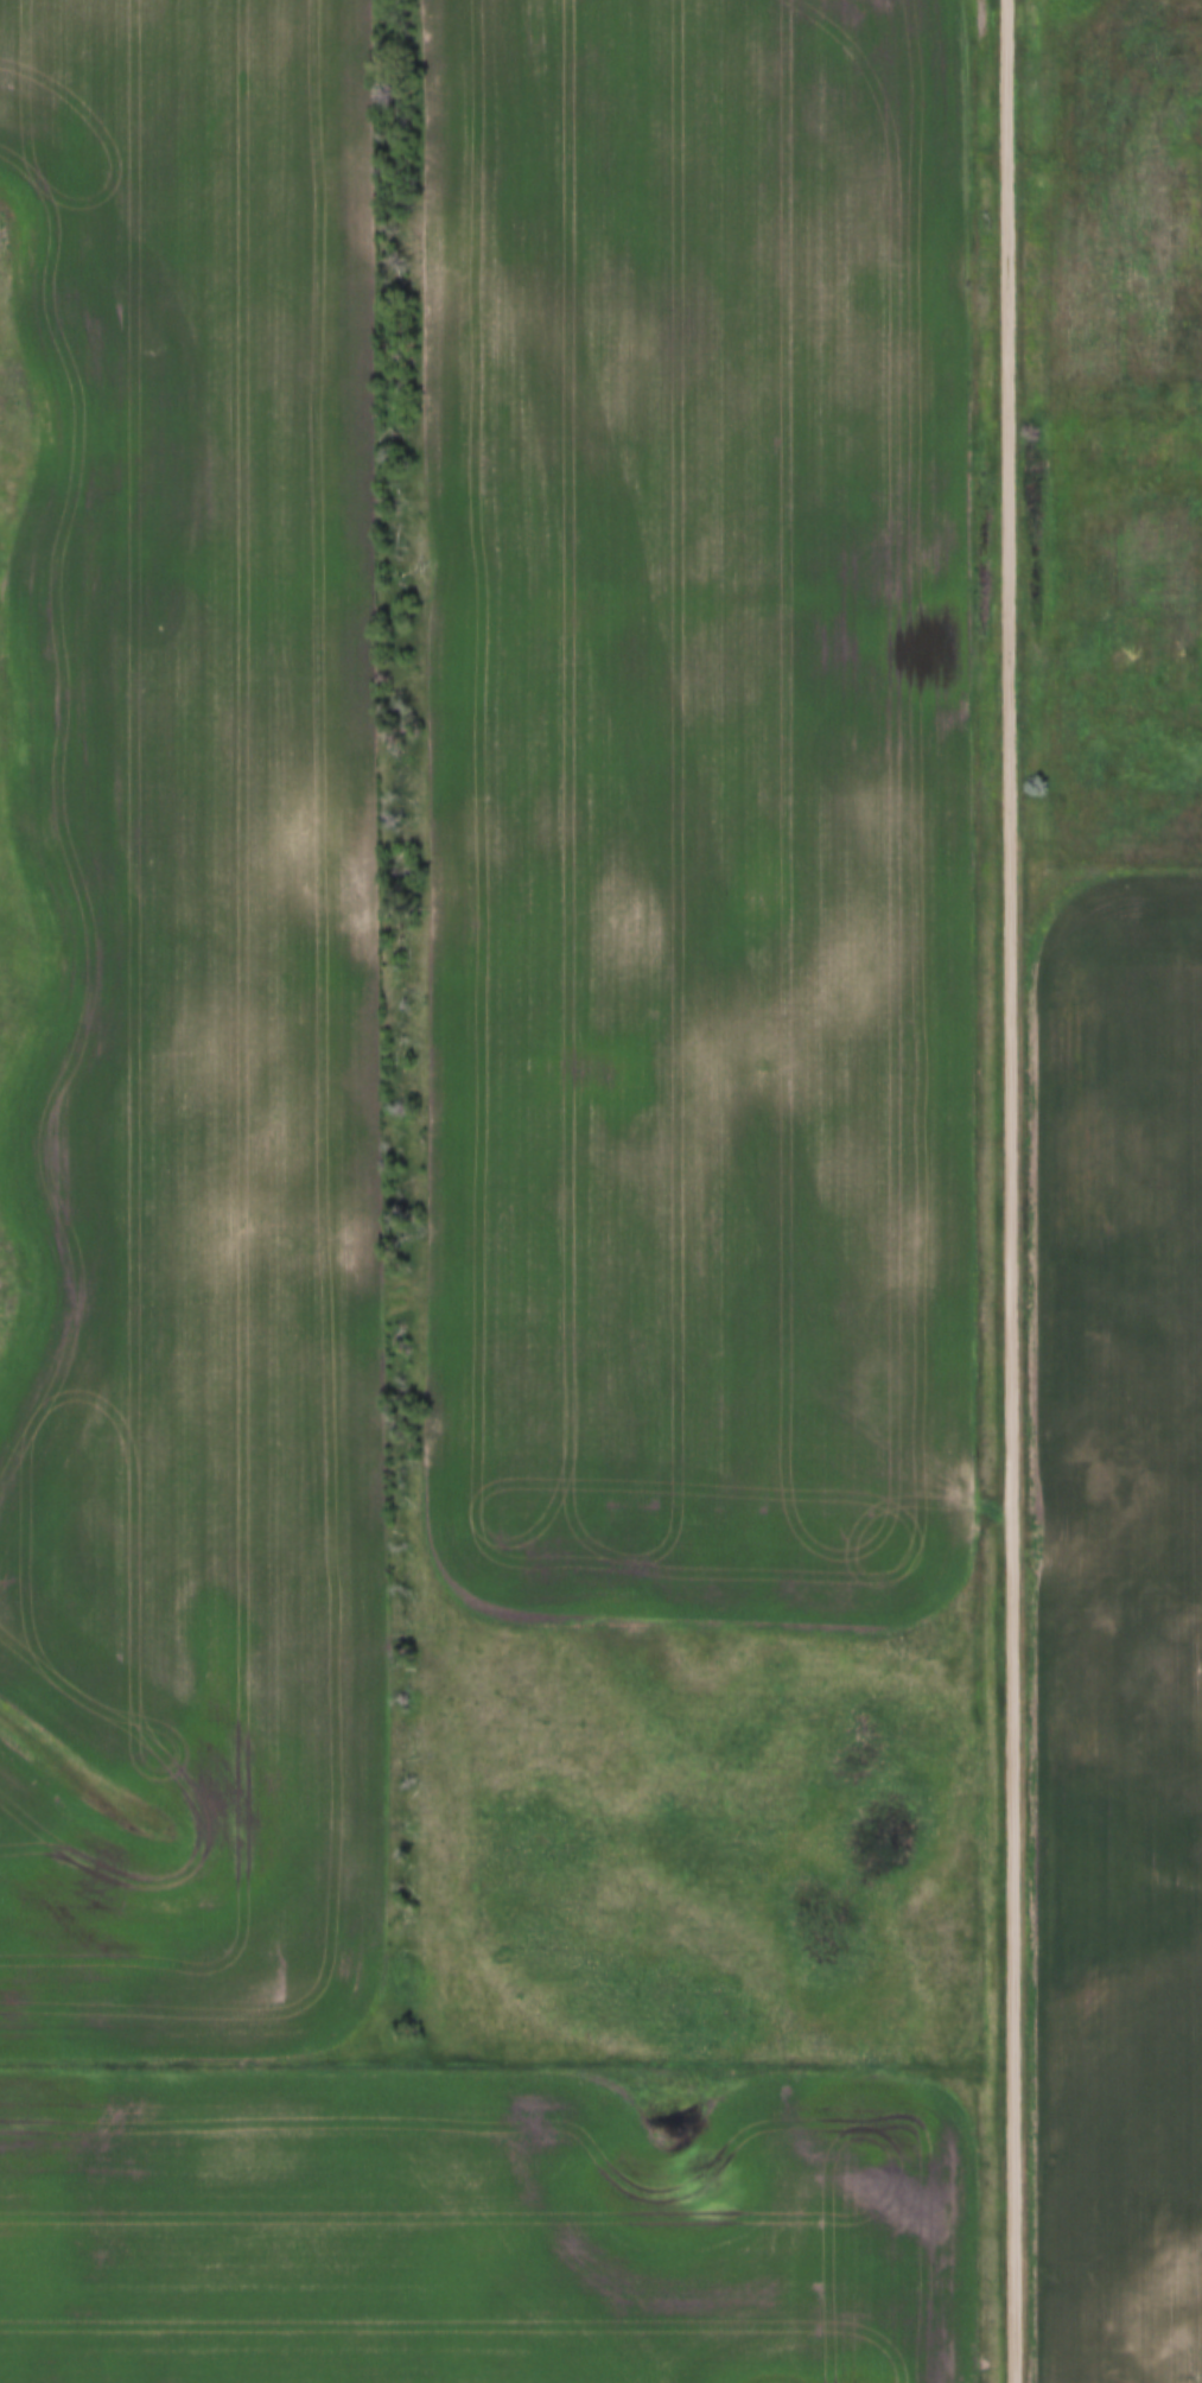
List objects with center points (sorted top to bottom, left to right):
road: (1009, 1191)

